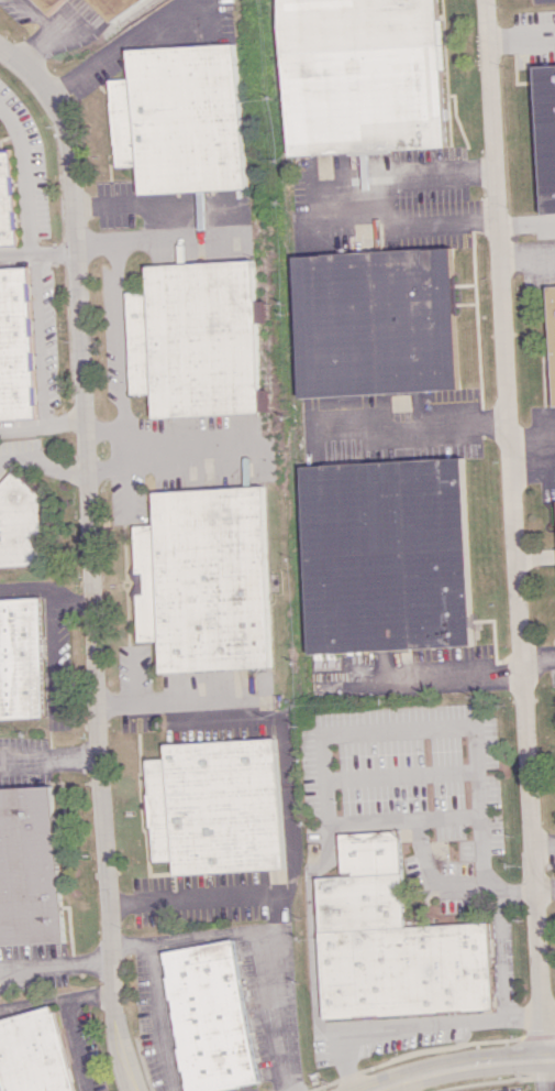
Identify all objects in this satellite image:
building: (48, 4)
building: (121, 10)
railway: (135, 12)
road: (37, 14)
road: (521, 34)
road: (35, 47)
road: (124, 47)
building: (363, 75)
building: (177, 119)
building: (548, 132)
road: (21, 175)
building: (4, 200)
road: (379, 205)
road: (167, 234)
road: (100, 246)
road: (35, 249)
building: (553, 316)
railway: (290, 319)
building: (376, 321)
road: (118, 332)
road: (33, 338)
building: (193, 339)
building: (13, 345)
road: (412, 424)
road: (40, 426)
road: (109, 430)
road: (532, 437)
road: (186, 445)
road: (4, 451)
road: (4, 458)
road: (45, 461)
road: (533, 468)
building: (18, 523)
road: (514, 530)
road: (86, 555)
building: (389, 555)
building: (206, 579)
road: (29, 586)
road: (67, 599)
road: (52, 656)
road: (539, 658)
building: (20, 659)
road: (430, 679)
road: (75, 707)
road: (395, 729)
road: (48, 761)
road: (285, 800)
building: (217, 806)
road: (543, 843)
building: (29, 866)
road: (434, 872)
road: (545, 887)
road: (310, 905)
road: (198, 940)
building: (393, 941)
road: (130, 945)
road: (506, 951)
road: (54, 965)
road: (33, 1002)
road: (268, 1007)
road: (548, 1011)
building: (210, 1016)
road: (157, 1018)
road: (69, 1025)
building: (33, 1052)
road: (346, 1061)
road: (466, 1071)
road: (545, 1074)
road: (129, 1085)
road: (132, 1085)
road: (402, 1087)
road: (286, 1090)

